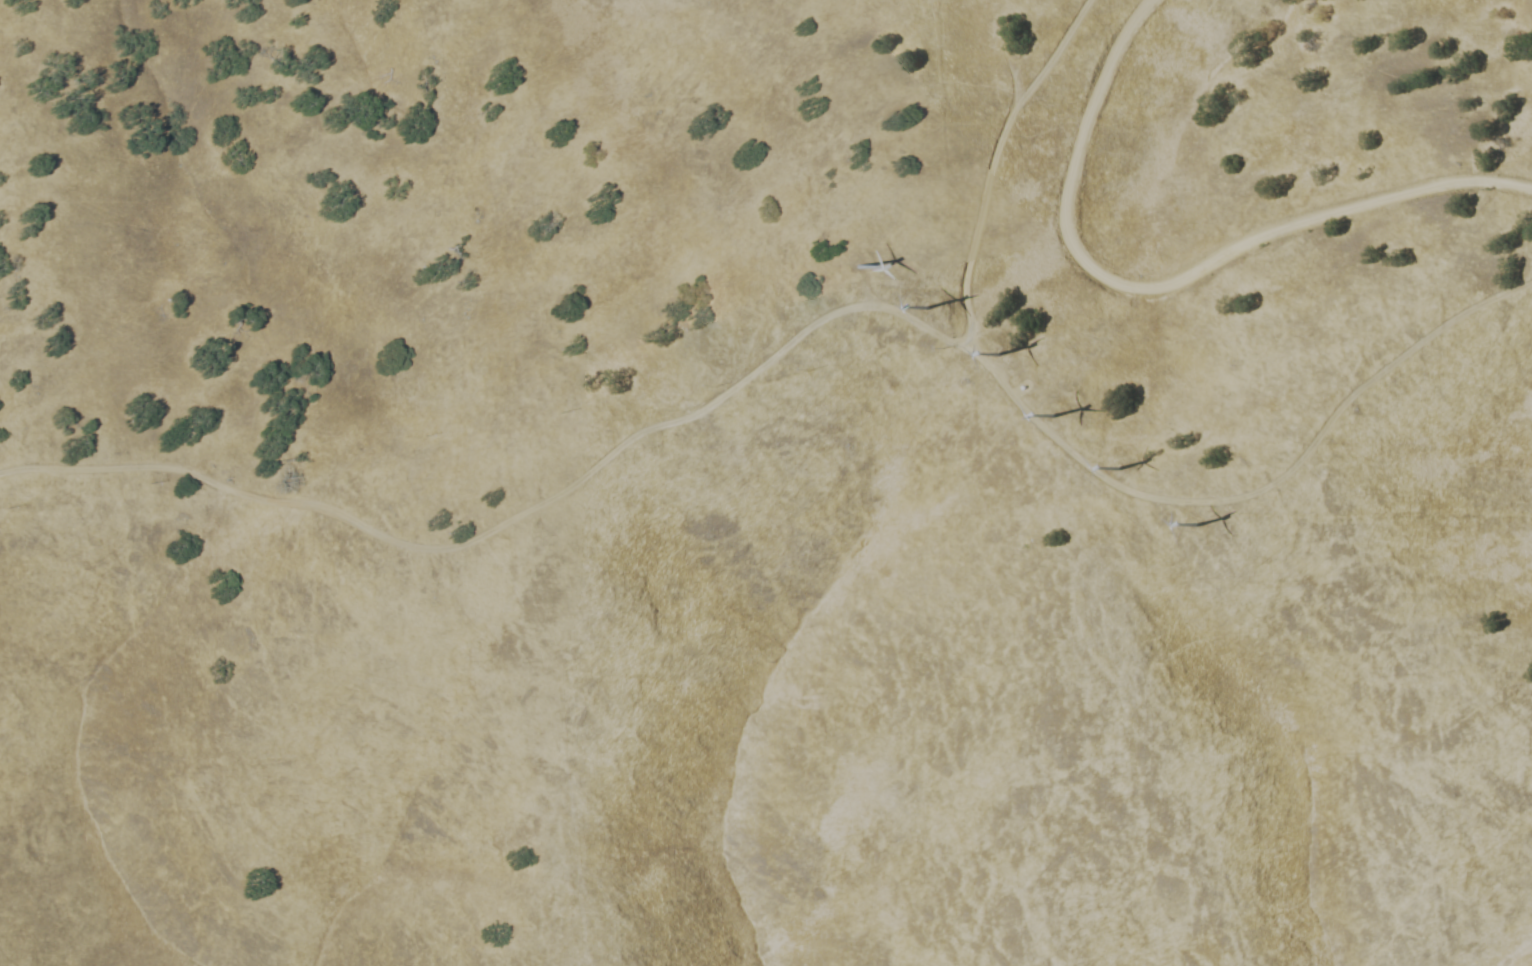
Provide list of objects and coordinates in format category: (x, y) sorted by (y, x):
road: (990, 162)
wind turbine: (864, 264)
road: (1168, 279)
wind turbine: (930, 308)
wind turbine: (1006, 352)
wind turbine: (1064, 418)
wind turbine: (1140, 454)
road: (1258, 488)
road: (511, 516)
wind turbine: (1210, 531)

